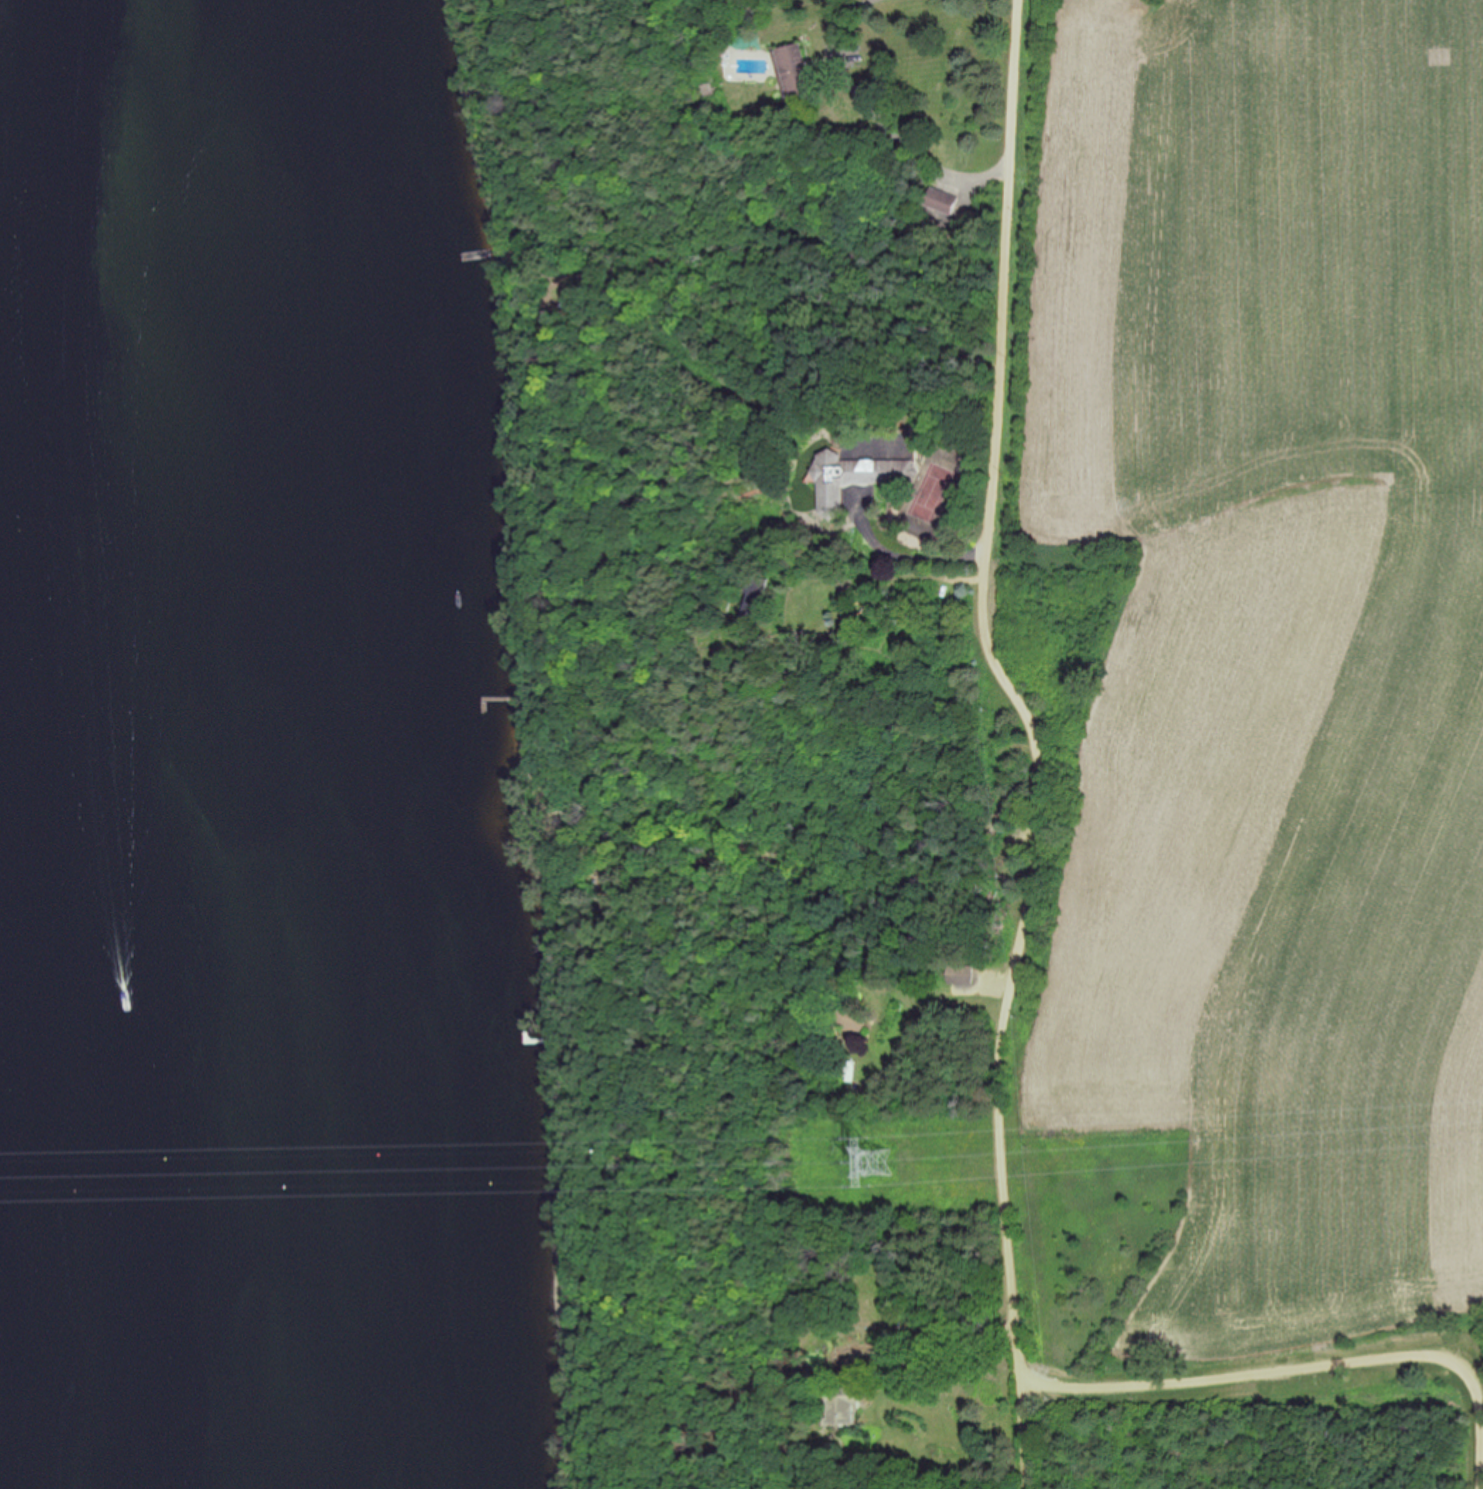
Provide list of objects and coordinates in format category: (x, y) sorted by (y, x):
building: (798, 71)
road: (880, 120)
building: (944, 204)
building: (856, 475)
crop: (1249, 695)
road: (1040, 740)
building: (962, 975)
river: (21, 1139)
power tower: (884, 1159)
road: (1308, 1368)
building: (852, 1400)

